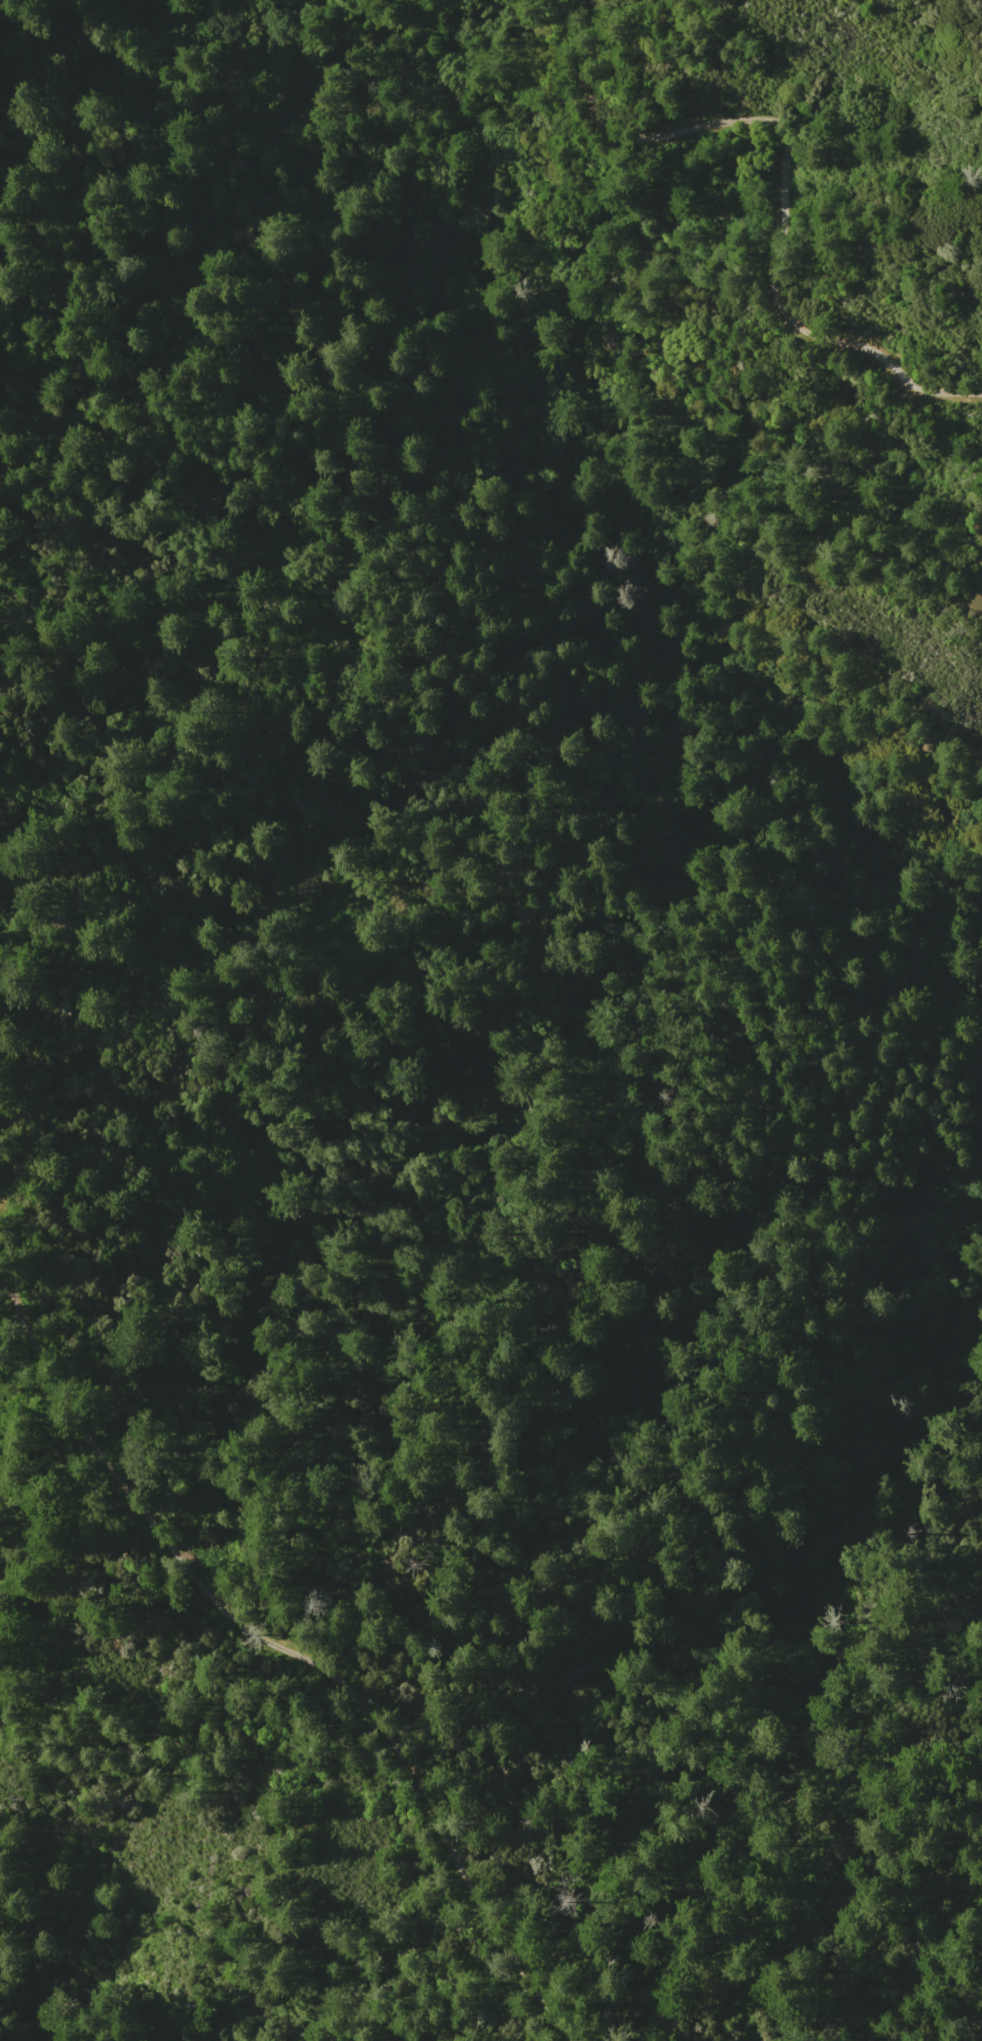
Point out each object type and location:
road: (779, 184)
road: (283, 1646)

